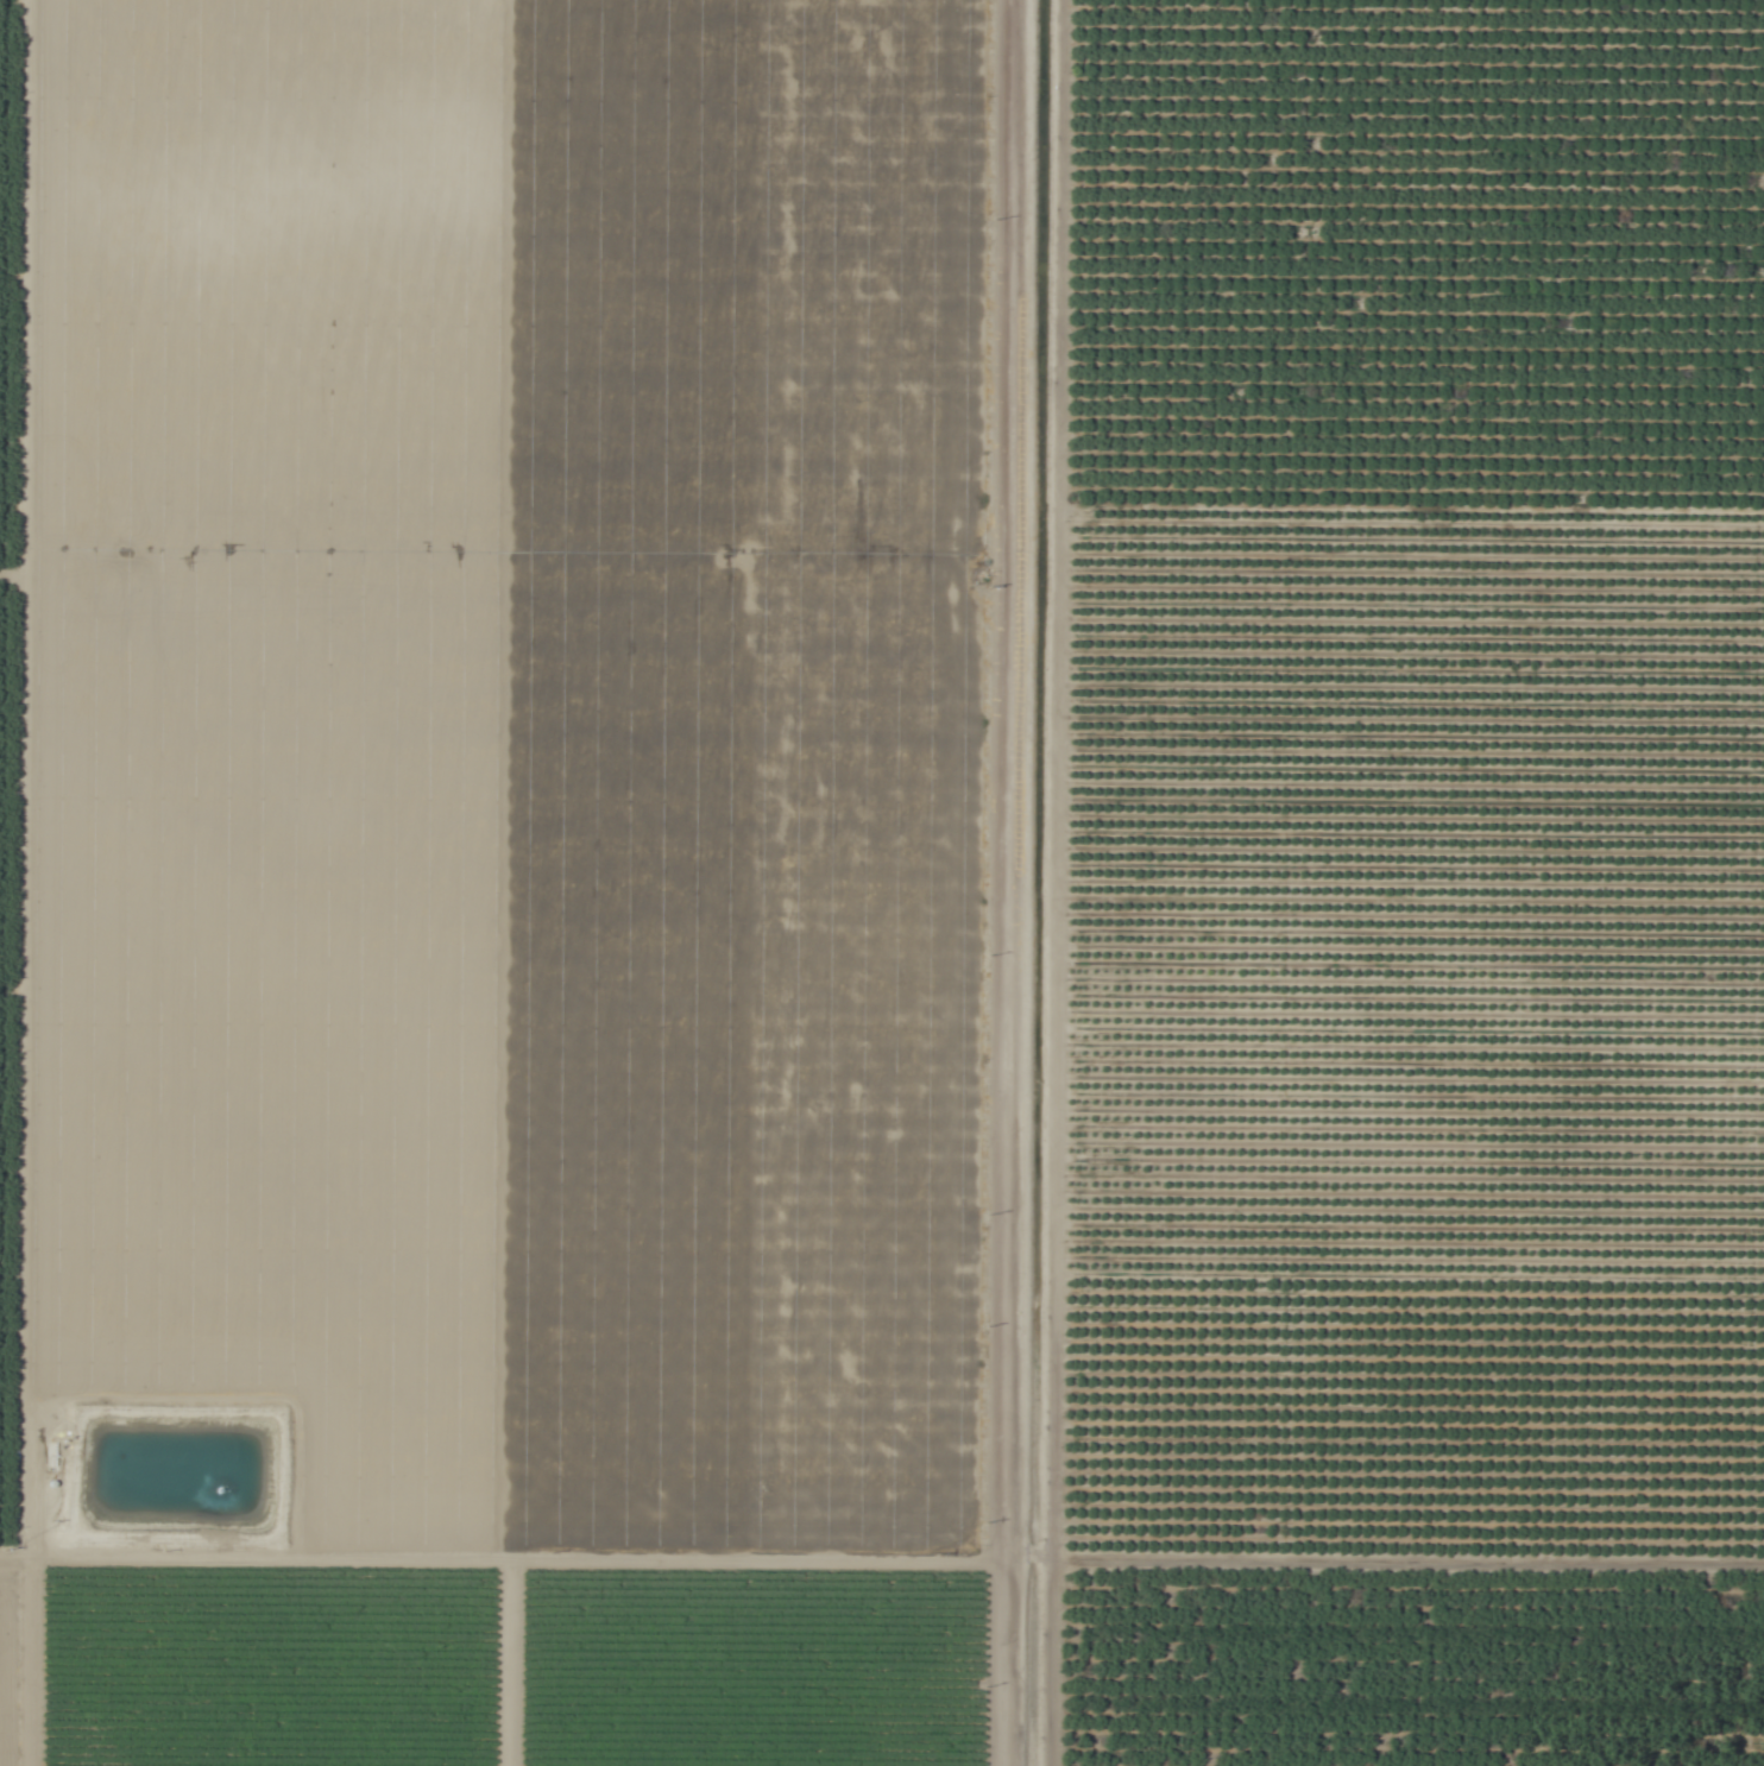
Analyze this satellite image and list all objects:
road: (15, 778)
crop: (882, 883)
road: (1007, 883)
road: (882, 1556)

